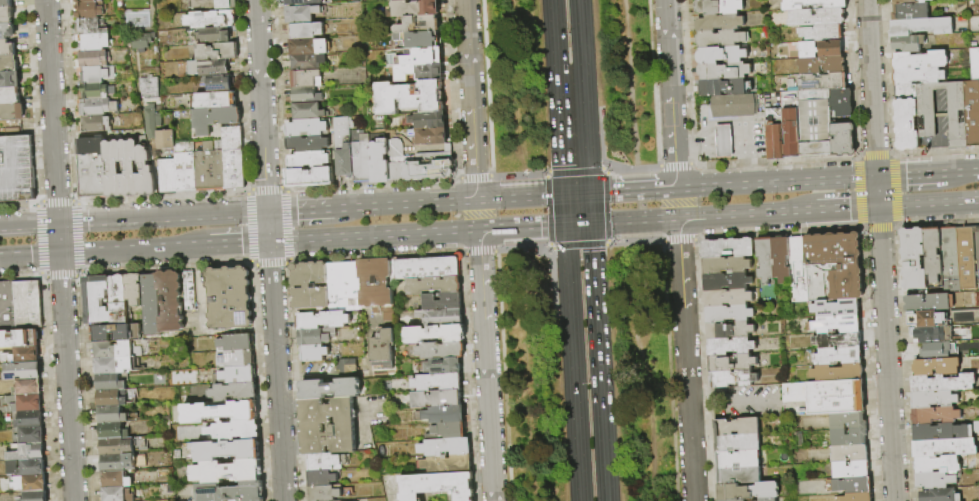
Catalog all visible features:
building: (397, 0)
building: (84, 1)
building: (102, 1)
building: (122, 1)
building: (909, 1)
building: (299, 3)
building: (6, 4)
building: (813, 4)
building: (216, 5)
building: (719, 7)
building: (413, 8)
building: (90, 10)
building: (910, 12)
building: (300, 14)
building: (7, 15)
building: (816, 17)
building: (212, 20)
building: (720, 23)
building: (420, 24)
building: (92, 27)
building: (921, 27)
building: (7, 31)
building: (307, 31)
building: (821, 32)
building: (216, 36)
building: (418, 39)
building: (721, 39)
building: (95, 42)
building: (144, 43)
building: (907, 43)
building: (307, 47)
building: (7, 48)
building: (827, 50)
building: (218, 52)
road: (581, 53)
building: (722, 55)
building: (420, 57)
building: (95, 59)
building: (919, 60)
building: (307, 62)
building: (9, 64)
building: (974, 64)
building: (821, 65)
building: (210, 69)
building: (724, 71)
building: (419, 72)
building: (97, 75)
building: (918, 76)
building: (305, 79)
building: (10, 80)
building: (822, 82)
building: (219, 84)
road: (630, 84)
building: (725, 87)
building: (152, 88)
building: (978, 88)
building: (904, 91)
building: (97, 92)
road: (670, 94)
road: (653, 95)
building: (304, 96)
building: (10, 97)
building: (410, 97)
road: (557, 97)
road: (470, 100)
building: (217, 101)
building: (842, 103)
road: (261, 106)
building: (733, 106)
building: (98, 108)
road: (51, 111)
building: (311, 111)
building: (11, 113)
building: (972, 113)
building: (941, 116)
building: (215, 120)
building: (428, 120)
building: (154, 122)
building: (814, 122)
building: (96, 124)
building: (906, 125)
building: (306, 128)
building: (342, 129)
building: (355, 134)
building: (785, 134)
road: (724, 135)
building: (428, 136)
road: (572, 137)
road: (695, 137)
building: (843, 139)
building: (167, 140)
building: (724, 141)
gas station: (724, 141)
building: (307, 143)
road: (587, 150)
road: (747, 152)
building: (234, 158)
building: (361, 159)
building: (308, 160)
building: (400, 161)
building: (344, 162)
building: (379, 162)
road: (673, 165)
road: (606, 166)
building: (428, 167)
building: (131, 168)
building: (186, 168)
building: (211, 168)
building: (92, 169)
road: (574, 169)
road: (601, 169)
building: (17, 170)
building: (115, 170)
road: (960, 172)
building: (147, 173)
road: (518, 174)
road: (545, 175)
road: (908, 175)
building: (169, 177)
building: (309, 177)
road: (473, 177)
traffic signals: (876, 178)
road: (776, 183)
road: (632, 191)
road: (577, 194)
traffic signals: (590, 194)
traffic signals: (564, 195)
road: (520, 198)
road: (418, 203)
road: (677, 203)
road: (928, 203)
traffic signals: (878, 206)
road: (606, 207)
road: (842, 207)
road: (590, 208)
road: (564, 209)
road: (313, 210)
road: (547, 210)
traffic signals: (268, 212)
road: (478, 214)
road: (743, 214)
road: (163, 218)
road: (634, 220)
road: (578, 223)
traffic signals: (591, 223)
traffic signals: (58, 224)
traffic signals: (565, 224)
road: (29, 226)
road: (522, 226)
road: (374, 235)
road: (59, 239)
traffic signals: (269, 241)
road: (234, 242)
road: (606, 243)
road: (577, 246)
road: (549, 247)
building: (727, 248)
road: (130, 249)
park: (579, 250)
road: (880, 250)
building: (932, 253)
traffic signals: (60, 254)
road: (29, 255)
building: (965, 257)
building: (913, 258)
building: (948, 258)
building: (764, 259)
building: (779, 259)
road: (567, 265)
building: (725, 265)
building: (832, 266)
building: (430, 268)
building: (797, 269)
building: (725, 282)
building: (311, 286)
building: (345, 286)
building: (434, 286)
building: (377, 287)
building: (134, 289)
building: (190, 292)
building: (231, 298)
building: (727, 298)
building: (98, 300)
building: (119, 301)
building: (171, 301)
building: (442, 302)
building: (926, 302)
building: (29, 305)
building: (151, 306)
building: (8, 307)
building: (835, 307)
building: (728, 313)
building: (439, 317)
building: (925, 319)
building: (322, 321)
building: (835, 323)
building: (729, 330)
building: (117, 333)
building: (932, 334)
building: (435, 335)
building: (316, 337)
building: (20, 339)
building: (838, 340)
building: (237, 343)
building: (730, 346)
building: (115, 350)
building: (441, 350)
building: (934, 350)
building: (383, 351)
building: (315, 353)
building: (28, 355)
road: (275, 356)
building: (838, 356)
road: (685, 359)
building: (237, 360)
road: (599, 361)
building: (732, 363)
building: (362, 364)
road: (486, 365)
building: (113, 366)
building: (346, 366)
building: (443, 366)
building: (935, 366)
building: (23, 371)
road: (647, 371)
building: (836, 372)
building: (378, 375)
building: (239, 376)
road: (66, 377)
building: (732, 379)
building: (110, 383)
building: (438, 383)
building: (941, 383)
building: (7, 387)
building: (28, 387)
building: (330, 389)
building: (235, 393)
building: (827, 396)
building: (112, 399)
building: (437, 399)
road: (746, 399)
building: (932, 399)
road: (701, 400)
road: (575, 404)
building: (24, 405)
building: (220, 413)
building: (442, 415)
building: (934, 415)
building: (112, 416)
building: (358, 416)
building: (30, 420)
building: (847, 420)
building: (329, 426)
building: (737, 426)
building: (113, 431)
building: (235, 431)
building: (935, 431)
building: (447, 432)
building: (31, 436)
building: (848, 437)
building: (737, 442)
building: (118, 447)
building: (943, 447)
building: (446, 448)
building: (228, 451)
building: (29, 453)
building: (849, 453)
building: (737, 459)
building: (326, 462)
building: (115, 464)
building: (936, 464)
building: (449, 465)
building: (28, 468)
building: (851, 469)
building: (228, 472)
building: (738, 475)
building: (322, 478)
building: (116, 480)
building: (934, 480)
building: (31, 484)
building: (852, 485)
building: (438, 486)
building: (748, 491)
building: (231, 492)
building: (325, 493)
building: (117, 495)
building: (937, 495)
building: (36, 496)
building: (855, 497)
building: (739, 500)
building: (768, 500)

